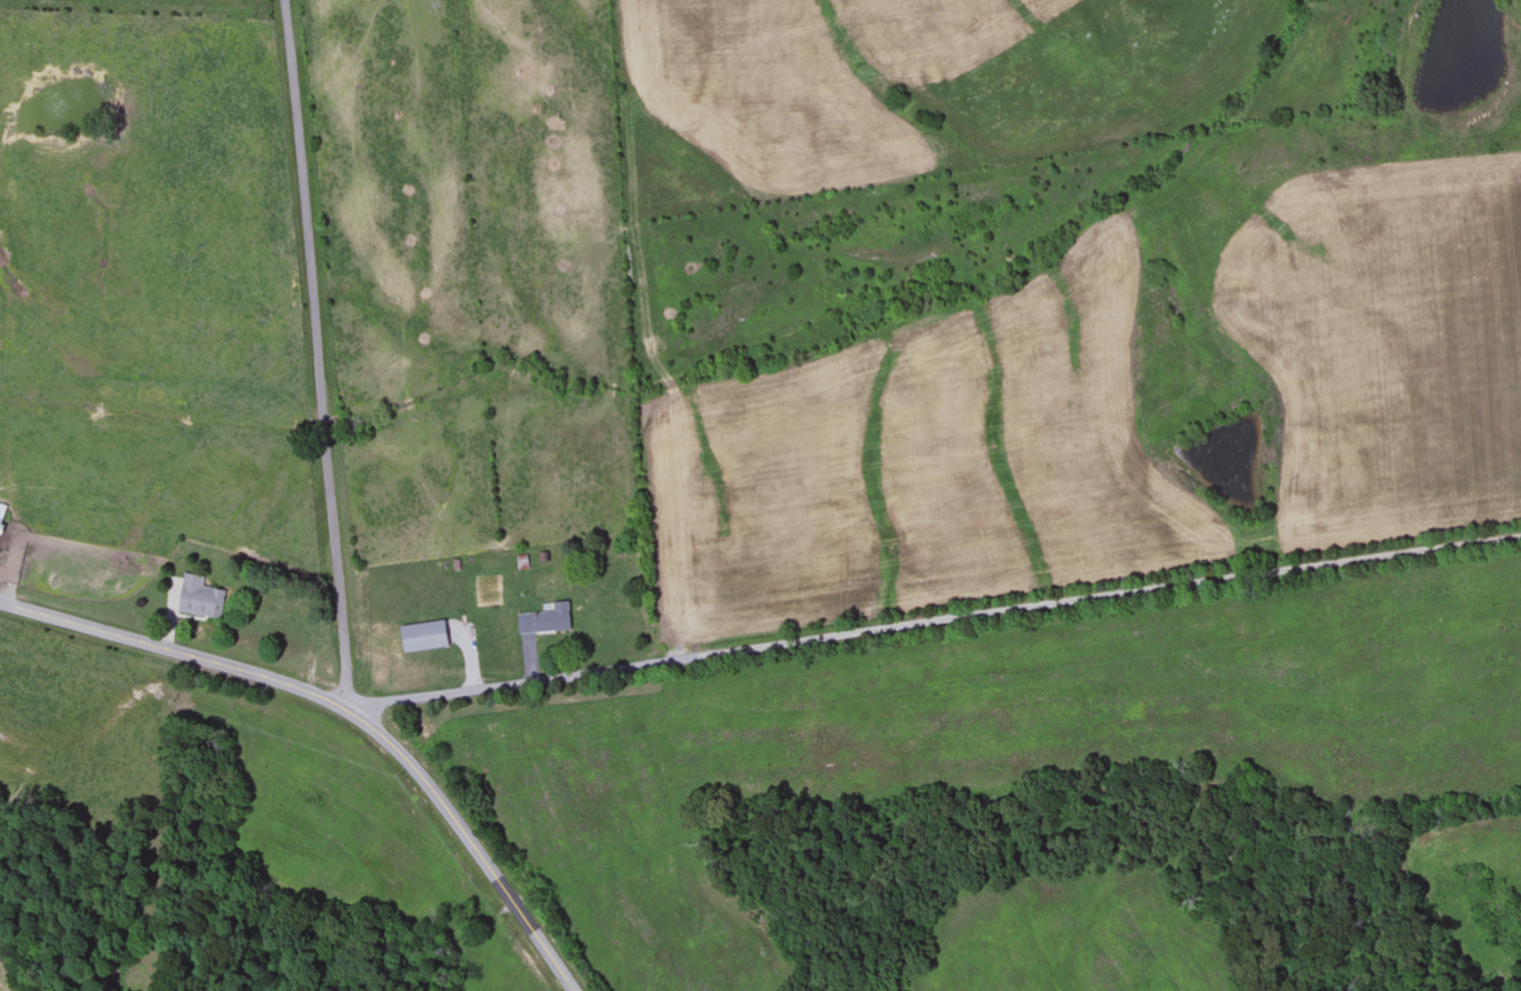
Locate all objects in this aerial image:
road: (318, 355)
building: (3, 518)
building: (202, 599)
road: (933, 619)
building: (548, 621)
building: (427, 637)
road: (345, 711)

